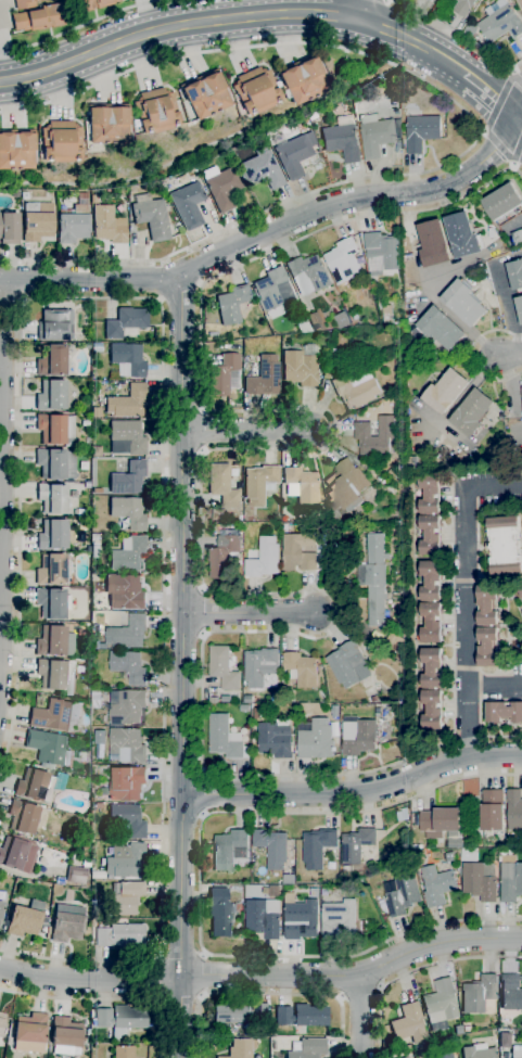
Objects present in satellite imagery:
building: (24, 3)
building: (520, 3)
building: (93, 4)
building: (462, 7)
road: (362, 11)
building: (39, 17)
road: (225, 20)
building: (498, 21)
road: (338, 23)
road: (78, 26)
road: (377, 27)
road: (449, 29)
building: (469, 29)
road: (513, 65)
road: (515, 76)
building: (303, 80)
road: (480, 86)
building: (255, 91)
building: (205, 94)
road: (515, 100)
building: (156, 111)
road: (515, 119)
building: (107, 123)
road: (479, 128)
building: (421, 131)
building: (378, 136)
building: (342, 141)
building: (61, 142)
building: (16, 149)
road: (517, 153)
building: (294, 155)
road: (506, 155)
building: (264, 170)
building: (222, 186)
building: (26, 195)
building: (84, 196)
building: (501, 201)
road: (357, 204)
building: (189, 205)
building: (153, 218)
building: (38, 221)
building: (74, 225)
building: (109, 226)
building: (10, 228)
building: (461, 234)
building: (517, 235)
building: (432, 243)
building: (381, 252)
building: (343, 260)
building: (308, 271)
building: (514, 273)
road: (158, 279)
road: (89, 280)
building: (270, 292)
building: (463, 302)
building: (232, 304)
building: (519, 307)
building: (386, 313)
building: (342, 319)
building: (314, 320)
building: (126, 321)
building: (301, 322)
building: (55, 324)
building: (440, 328)
building: (84, 345)
road: (470, 355)
road: (508, 355)
building: (333, 356)
building: (129, 358)
building: (52, 360)
building: (301, 366)
building: (225, 375)
building: (265, 377)
building: (356, 388)
building: (444, 390)
building: (51, 395)
building: (521, 395)
road: (163, 399)
building: (127, 401)
building: (471, 411)
building: (55, 429)
road: (244, 429)
building: (361, 429)
building: (127, 437)
road: (2, 447)
building: (97, 451)
building: (51, 463)
building: (128, 477)
building: (258, 483)
building: (302, 484)
building: (345, 485)
building: (222, 486)
building: (390, 488)
building: (52, 498)
building: (392, 510)
building: (128, 512)
building: (247, 512)
building: (429, 512)
road: (201, 518)
building: (265, 528)
road: (181, 532)
building: (53, 535)
building: (504, 546)
building: (128, 553)
building: (296, 553)
building: (222, 555)
building: (264, 558)
building: (51, 570)
building: (94, 577)
building: (374, 588)
building: (520, 589)
building: (125, 591)
road: (464, 594)
building: (431, 601)
building: (52, 602)
building: (521, 611)
road: (247, 612)
building: (486, 625)
building: (127, 632)
building: (54, 641)
building: (96, 643)
building: (346, 663)
building: (128, 665)
building: (222, 667)
building: (260, 667)
building: (302, 668)
building: (55, 675)
road: (494, 684)
building: (431, 688)
building: (212, 699)
building: (247, 699)
building: (374, 699)
building: (126, 706)
building: (397, 706)
building: (504, 711)
building: (256, 712)
building: (55, 715)
building: (357, 735)
building: (99, 736)
building: (225, 738)
building: (275, 738)
building: (315, 738)
building: (127, 742)
building: (48, 748)
building: (81, 756)
building: (127, 782)
building: (39, 785)
road: (354, 790)
building: (103, 791)
road: (203, 794)
building: (99, 805)
building: (514, 808)
building: (493, 810)
building: (23, 816)
building: (127, 820)
building: (441, 823)
building: (356, 844)
building: (84, 846)
building: (271, 846)
building: (317, 846)
building: (229, 849)
building: (17, 854)
building: (126, 861)
building: (86, 864)
building: (76, 875)
building: (288, 879)
building: (510, 879)
building: (480, 880)
road: (200, 884)
building: (437, 884)
building: (324, 891)
building: (314, 892)
building: (402, 893)
building: (124, 897)
building: (1, 908)
building: (220, 913)
building: (300, 917)
building: (263, 918)
building: (338, 918)
building: (25, 919)
building: (65, 923)
road: (179, 925)
building: (362, 925)
building: (119, 935)
road: (413, 970)
road: (201, 974)
road: (354, 976)
road: (89, 979)
road: (158, 980)
building: (511, 992)
building: (479, 993)
road: (269, 995)
road: (107, 999)
building: (440, 1005)
building: (240, 1012)
building: (302, 1016)
road: (361, 1017)
building: (103, 1018)
building: (2, 1021)
building: (127, 1021)
building: (409, 1024)
building: (458, 1030)
building: (30, 1033)
building: (65, 1035)
building: (504, 1040)
building: (240, 1048)
building: (308, 1049)
building: (124, 1051)
building: (478, 1051)
building: (517, 1051)
building: (444, 1056)
building: (405, 1057)

